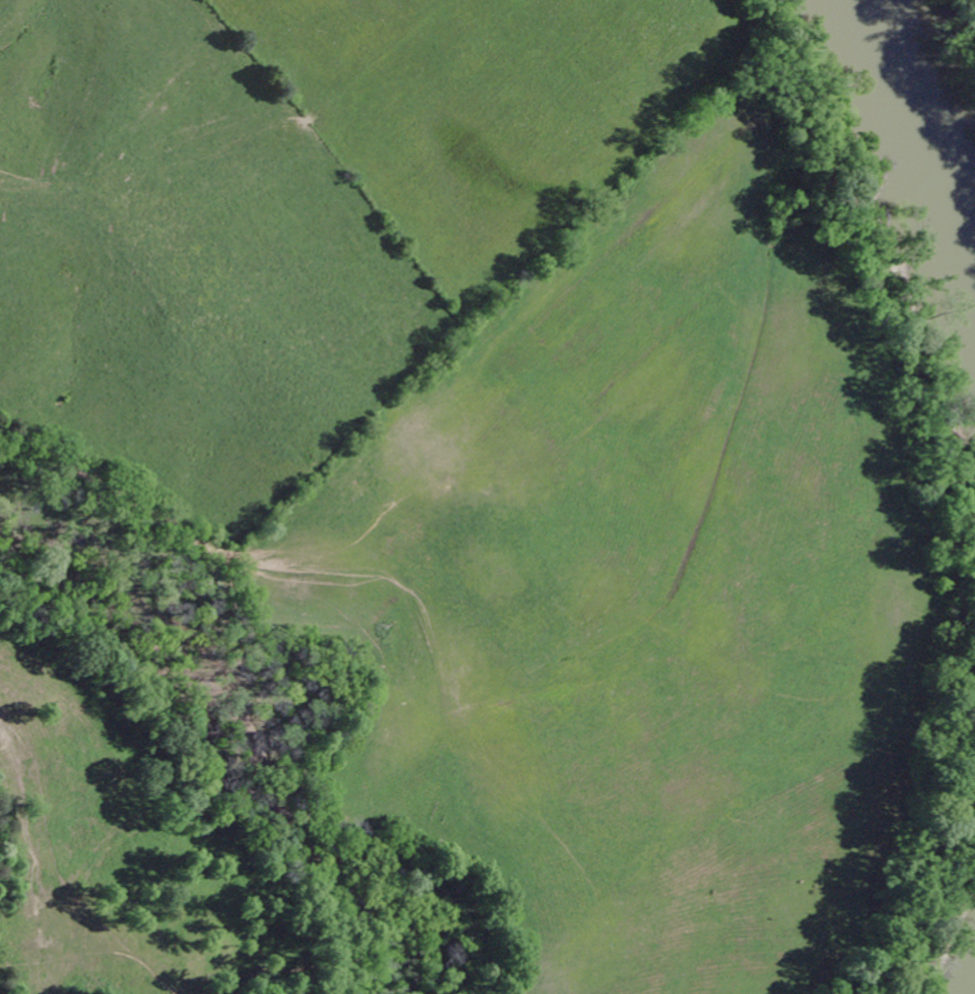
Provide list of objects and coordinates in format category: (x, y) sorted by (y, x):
river: (914, 127)

